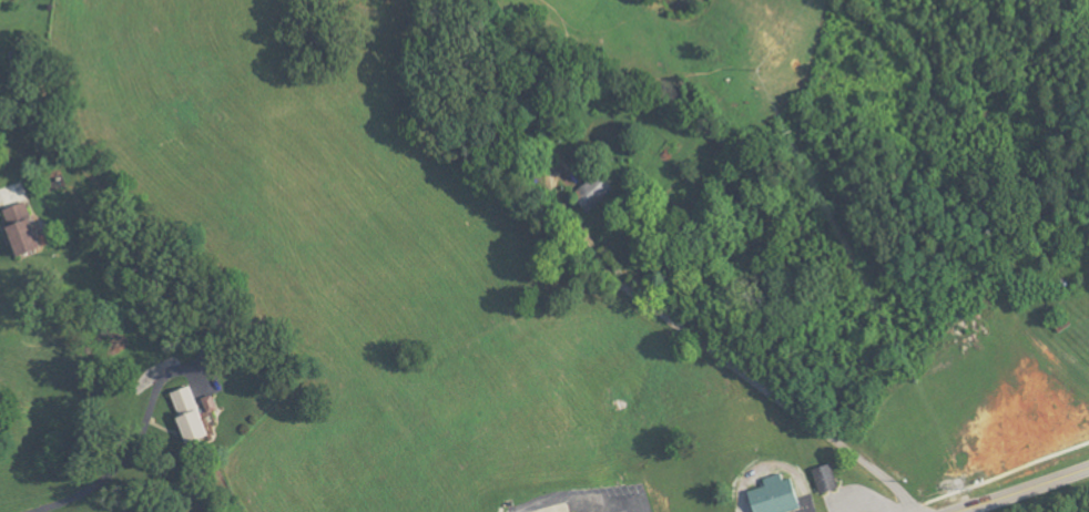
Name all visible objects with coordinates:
road: (4, 193)
building: (27, 229)
road: (752, 379)
building: (199, 413)
road: (109, 475)
building: (828, 479)
road: (1026, 490)
building: (780, 495)
road: (583, 501)
road: (594, 506)
road: (974, 510)

